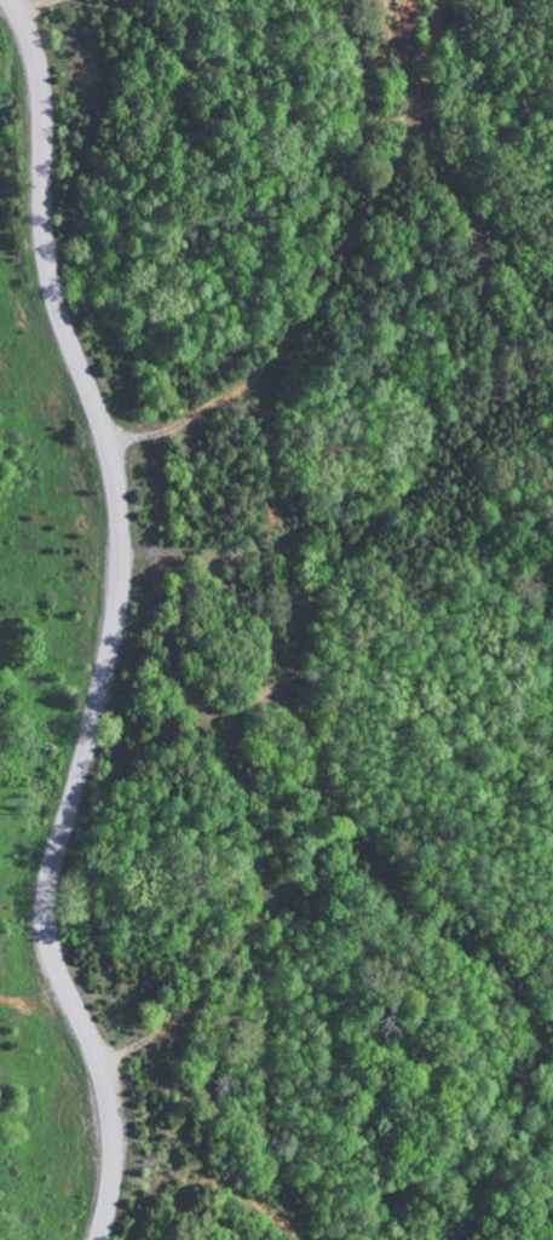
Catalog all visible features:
road: (114, 621)

